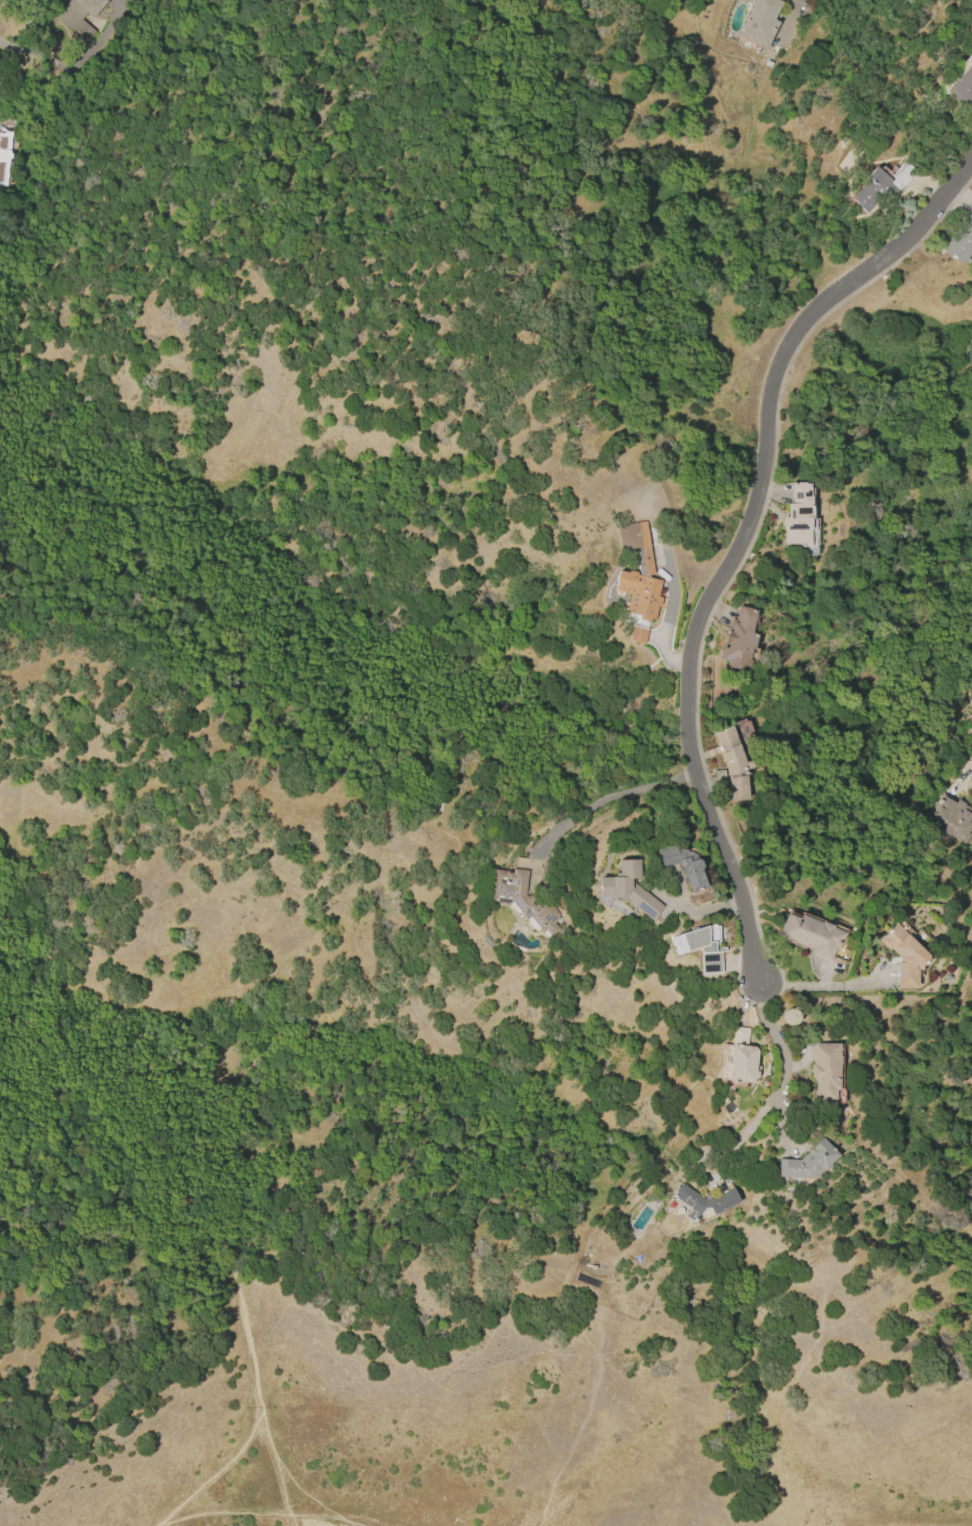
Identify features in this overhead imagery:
building: (79, 15)
building: (760, 22)
building: (962, 86)
building: (4, 156)
building: (880, 187)
building: (961, 239)
building: (798, 516)
road: (740, 539)
building: (645, 572)
building: (637, 635)
building: (739, 641)
building: (971, 718)
building: (743, 730)
building: (733, 764)
road: (612, 798)
building: (952, 820)
building: (520, 863)
building: (682, 865)
building: (627, 887)
building: (521, 899)
road: (706, 910)
building: (811, 935)
building: (700, 947)
building: (903, 956)
road: (826, 986)
building: (741, 1058)
building: (825, 1070)
road: (777, 1088)
building: (807, 1162)
road: (223, 1186)
building: (703, 1201)
road: (279, 1480)
road: (303, 1494)
road: (243, 1514)
road: (154, 1525)

